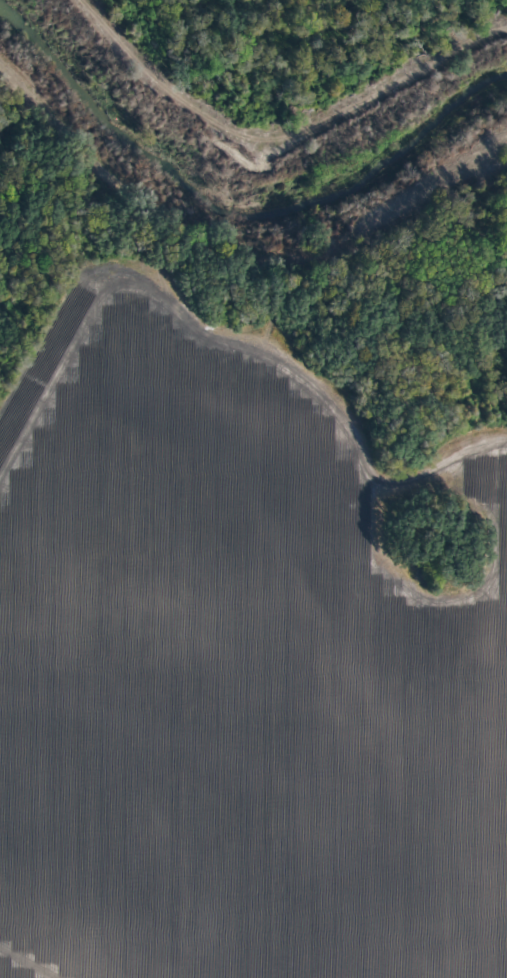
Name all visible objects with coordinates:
road: (203, 16)
river: (247, 193)

